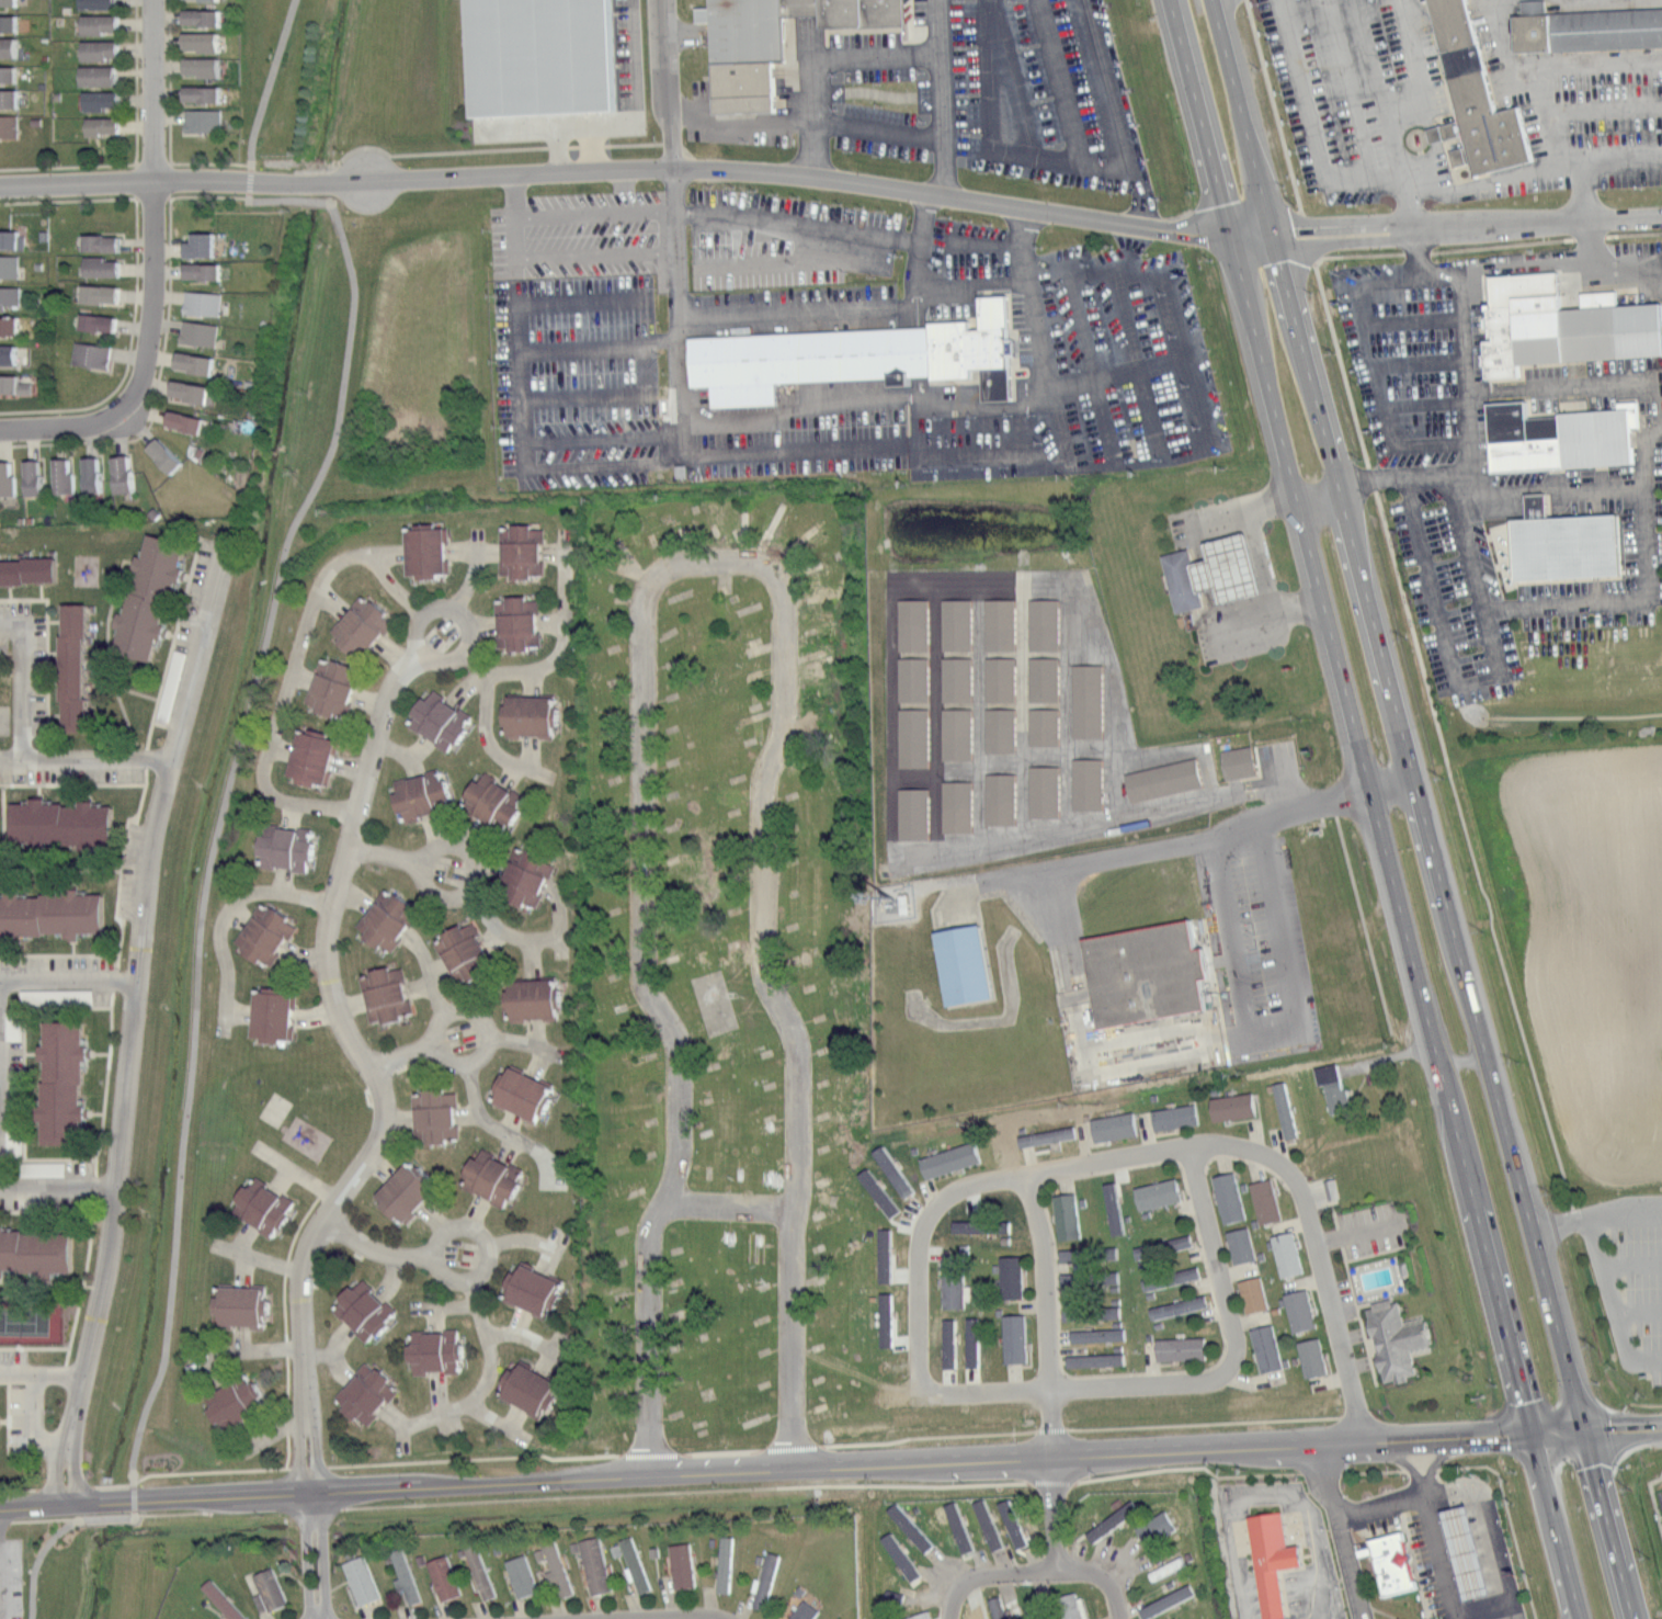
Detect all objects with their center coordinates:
building: (7, 1)
building: (90, 4)
building: (195, 18)
building: (11, 23)
building: (91, 24)
building: (1583, 29)
road: (679, 31)
building: (195, 41)
building: (767, 42)
building: (12, 47)
building: (92, 49)
building: (539, 54)
road: (873, 58)
building: (197, 67)
building: (11, 75)
building: (91, 75)
road: (137, 82)
road: (665, 83)
building: (196, 93)
road: (937, 97)
building: (11, 98)
building: (1469, 98)
building: (92, 100)
road: (811, 101)
road: (1060, 107)
road: (1403, 112)
road: (631, 113)
road: (1118, 113)
road: (170, 116)
road: (1199, 118)
building: (198, 120)
road: (1241, 120)
road: (796, 124)
building: (95, 125)
building: (9, 126)
road: (603, 144)
road: (1553, 151)
road: (428, 152)
road: (1616, 156)
road: (67, 165)
road: (638, 169)
road: (1580, 180)
road: (68, 200)
traffic signals: (1220, 200)
road: (152, 214)
road: (923, 216)
road: (1467, 227)
road: (845, 230)
traffic signals: (1196, 235)
traffic signals: (1308, 236)
building: (12, 240)
building: (96, 240)
building: (194, 242)
traffic signals: (1278, 261)
building: (98, 265)
building: (10, 267)
building: (196, 269)
road: (1280, 271)
road: (1541, 273)
road: (1625, 276)
building: (96, 292)
building: (10, 296)
road: (678, 296)
building: (198, 302)
building: (92, 320)
building: (12, 326)
building: (194, 331)
building: (1568, 333)
road: (1176, 349)
road: (1301, 350)
building: (87, 353)
road: (162, 353)
building: (11, 354)
park: (383, 354)
road: (129, 355)
building: (852, 355)
building: (189, 361)
road: (1041, 365)
building: (13, 385)
building: (182, 389)
road: (1661, 396)
road: (799, 401)
road: (519, 414)
building: (178, 419)
road: (56, 424)
road: (1470, 424)
building: (1556, 435)
building: (157, 453)
building: (87, 473)
building: (117, 474)
building: (27, 475)
building: (58, 475)
building: (5, 478)
road: (1579, 486)
building: (1560, 542)
building: (428, 551)
building: (522, 551)
road: (1261, 557)
road: (688, 558)
park: (96, 561)
building: (1225, 565)
building: (29, 569)
road: (187, 575)
building: (1180, 577)
road: (41, 590)
road: (10, 591)
building: (150, 597)
road: (113, 618)
road: (54, 620)
building: (517, 623)
building: (910, 623)
building: (953, 623)
building: (998, 623)
building: (1040, 623)
building: (362, 626)
road: (480, 630)
road: (171, 633)
road: (47, 641)
road: (173, 641)
road: (561, 641)
road: (107, 648)
road: (54, 652)
road: (295, 658)
building: (75, 667)
building: (910, 678)
building: (953, 678)
building: (997, 678)
building: (1040, 678)
road: (23, 679)
road: (1476, 682)
road: (54, 683)
building: (169, 684)
building: (337, 688)
road: (137, 692)
building: (1084, 700)
park: (5, 703)
road: (55, 714)
building: (532, 715)
park: (4, 718)
building: (442, 720)
building: (1040, 725)
building: (998, 728)
building: (953, 733)
building: (910, 736)
road: (486, 739)
building: (316, 757)
road: (86, 759)
building: (1234, 761)
building: (1159, 778)
building: (1084, 782)
road: (73, 783)
road: (39, 790)
building: (1040, 790)
road: (88, 791)
road: (226, 796)
building: (423, 796)
building: (997, 797)
building: (494, 802)
building: (953, 805)
building: (910, 812)
building: (65, 825)
road: (1166, 847)
building: (287, 848)
road: (384, 854)
road: (88, 860)
road: (123, 868)
road: (60, 869)
building: (526, 875)
road: (474, 878)
road: (226, 910)
building: (52, 914)
building: (388, 920)
road: (1405, 928)
building: (266, 935)
road: (75, 946)
road: (59, 954)
building: (465, 954)
building: (957, 963)
building: (1141, 972)
road: (430, 973)
road: (68, 974)
building: (387, 994)
building: (53, 996)
building: (535, 999)
road: (1472, 1008)
road: (777, 1010)
building: (274, 1015)
road: (130, 1030)
road: (519, 1040)
road: (671, 1040)
road: (101, 1052)
road: (403, 1054)
road: (468, 1056)
road: (24, 1074)
building: (64, 1083)
road: (106, 1084)
building: (1328, 1085)
building: (524, 1092)
building: (1233, 1106)
park: (276, 1108)
building: (1285, 1109)
road: (94, 1111)
building: (1173, 1116)
building: (436, 1118)
park: (267, 1119)
road: (490, 1123)
building: (1114, 1125)
building: (1055, 1140)
road: (376, 1143)
road: (1126, 1158)
building: (949, 1159)
building: (889, 1169)
road: (298, 1171)
building: (493, 1178)
road: (58, 1187)
road: (970, 1187)
building: (1330, 1187)
building: (875, 1191)
building: (1158, 1192)
building: (409, 1193)
building: (1230, 1197)
building: (1266, 1199)
road: (726, 1202)
building: (264, 1205)
building: (1109, 1208)
road: (1594, 1210)
road: (47, 1211)
building: (1067, 1214)
road: (47, 1219)
building: (966, 1225)
building: (999, 1226)
road: (485, 1245)
building: (1163, 1245)
building: (1241, 1245)
road: (376, 1247)
road: (1316, 1248)
building: (37, 1250)
building: (1089, 1253)
building: (1286, 1254)
building: (880, 1255)
road: (1630, 1260)
building: (1012, 1276)
building: (1089, 1276)
building: (1172, 1277)
road: (50, 1283)
road: (84, 1283)
building: (536, 1289)
building: (949, 1291)
building: (1253, 1293)
road: (1612, 1300)
building: (1179, 1305)
building: (243, 1306)
building: (1300, 1309)
road: (1638, 1309)
building: (365, 1310)
building: (1091, 1313)
road: (1046, 1315)
building: (883, 1318)
park: (32, 1322)
road: (285, 1327)
road: (519, 1331)
building: (1096, 1334)
building: (1015, 1338)
building: (1397, 1339)
building: (969, 1341)
road: (486, 1343)
building: (945, 1343)
road: (35, 1347)
building: (1267, 1347)
building: (1180, 1348)
building: (436, 1351)
building: (1313, 1357)
building: (1094, 1359)
road: (919, 1363)
road: (1225, 1370)
road: (41, 1377)
building: (533, 1389)
building: (366, 1395)
building: (237, 1405)
road: (456, 1405)
road: (9, 1418)
road: (4, 1419)
road: (30, 1424)
road: (1131, 1426)
road: (1596, 1429)
traffic signals: (1582, 1430)
traffic signals: (1532, 1431)
road: (1186, 1448)
road: (1410, 1462)
road: (1434, 1463)
road: (271, 1468)
road: (1380, 1471)
road: (1262, 1473)
road: (420, 1487)
road: (1270, 1492)
road: (574, 1496)
road: (1380, 1504)
road: (1509, 1512)
road: (1054, 1513)
road: (173, 1514)
road: (38, 1519)
building: (1108, 1520)
building: (1009, 1522)
building: (984, 1524)
building: (907, 1526)
building: (955, 1527)
building: (1152, 1527)
road: (1343, 1530)
building: (1462, 1550)
building: (897, 1555)
road: (1437, 1555)
building: (1267, 1560)
building: (1387, 1560)
building: (636, 1563)
building: (595, 1564)
building: (726, 1564)
building: (683, 1565)
building: (1168, 1566)
building: (480, 1571)
building: (558, 1572)
road: (1031, 1572)
building: (524, 1576)
building: (446, 1577)
building: (407, 1578)
building: (363, 1580)
building: (767, 1580)
building: (270, 1592)
road: (1116, 1597)
building: (1166, 1597)
building: (225, 1600)
road: (946, 1601)
building: (1070, 1606)
building: (999, 1607)
building: (806, 1610)
building: (917, 1615)
building: (1172, 1618)
road: (1335, 1618)

